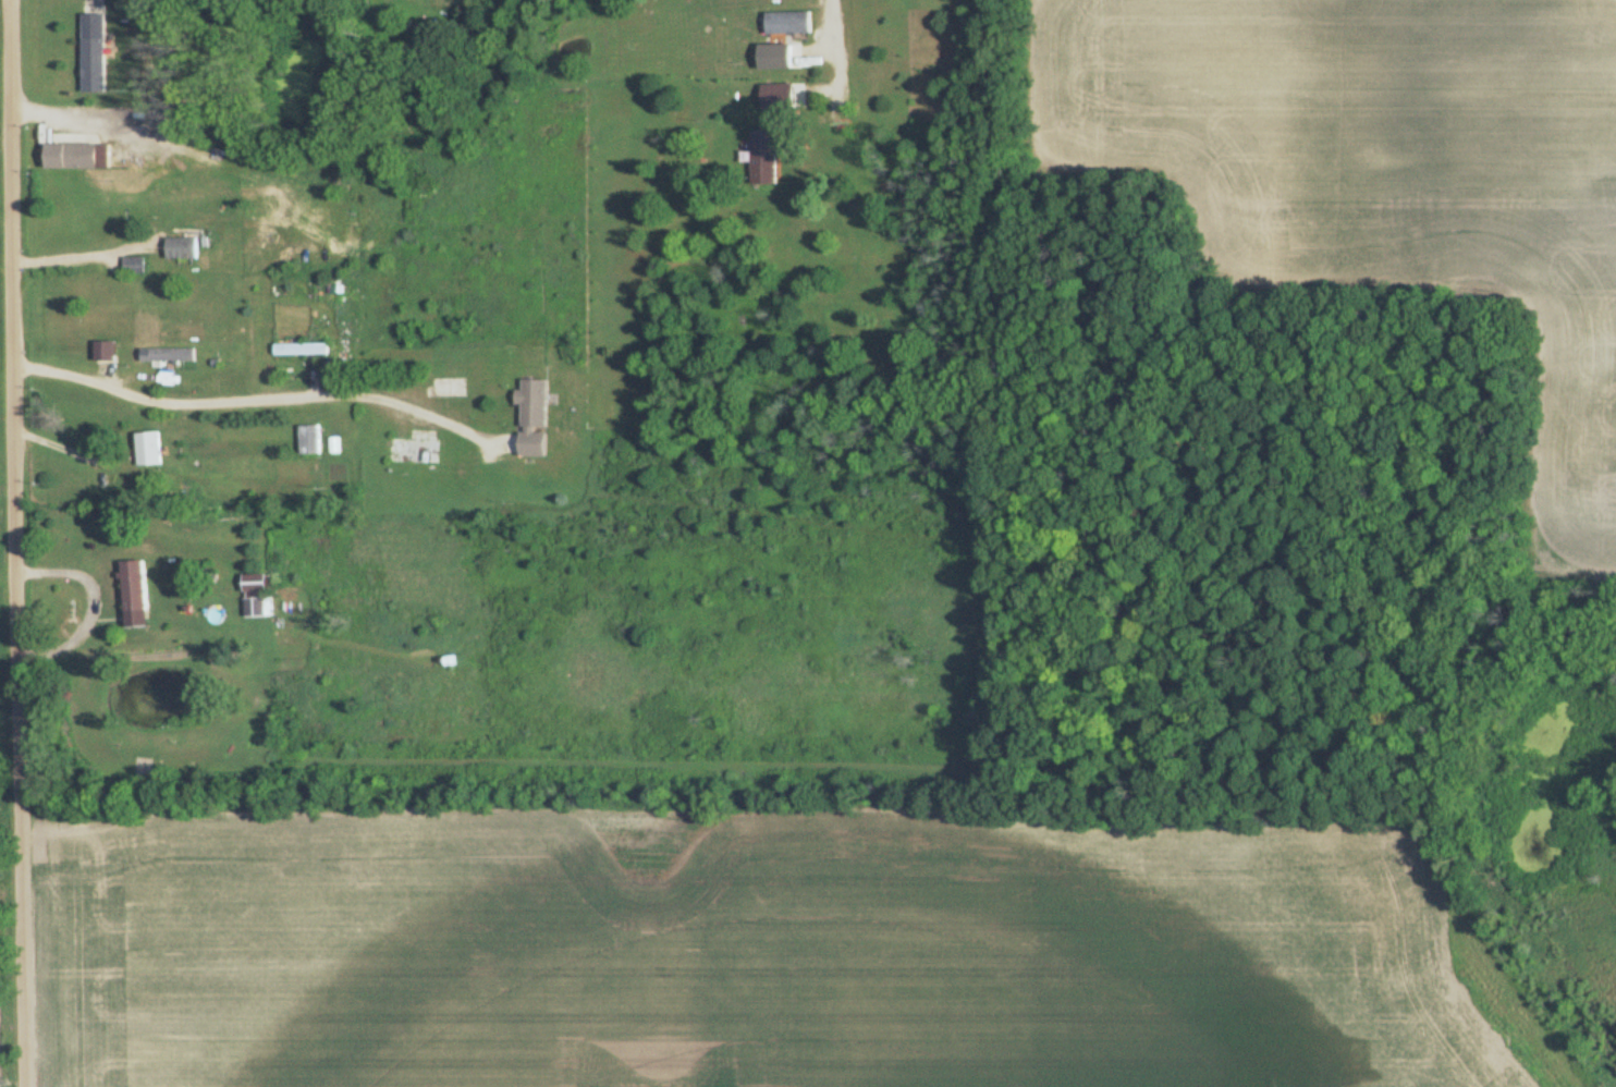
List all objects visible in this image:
building: (789, 23)
building: (772, 57)
road: (63, 115)
building: (764, 158)
building: (183, 249)
road: (76, 257)
building: (134, 267)
building: (339, 288)
building: (303, 351)
building: (171, 356)
building: (452, 389)
road: (256, 398)
building: (534, 418)
building: (150, 450)
road: (70, 451)
building: (415, 452)
road: (855, 542)
road: (16, 543)
building: (138, 587)
building: (257, 597)
road: (88, 602)
building: (140, 768)

